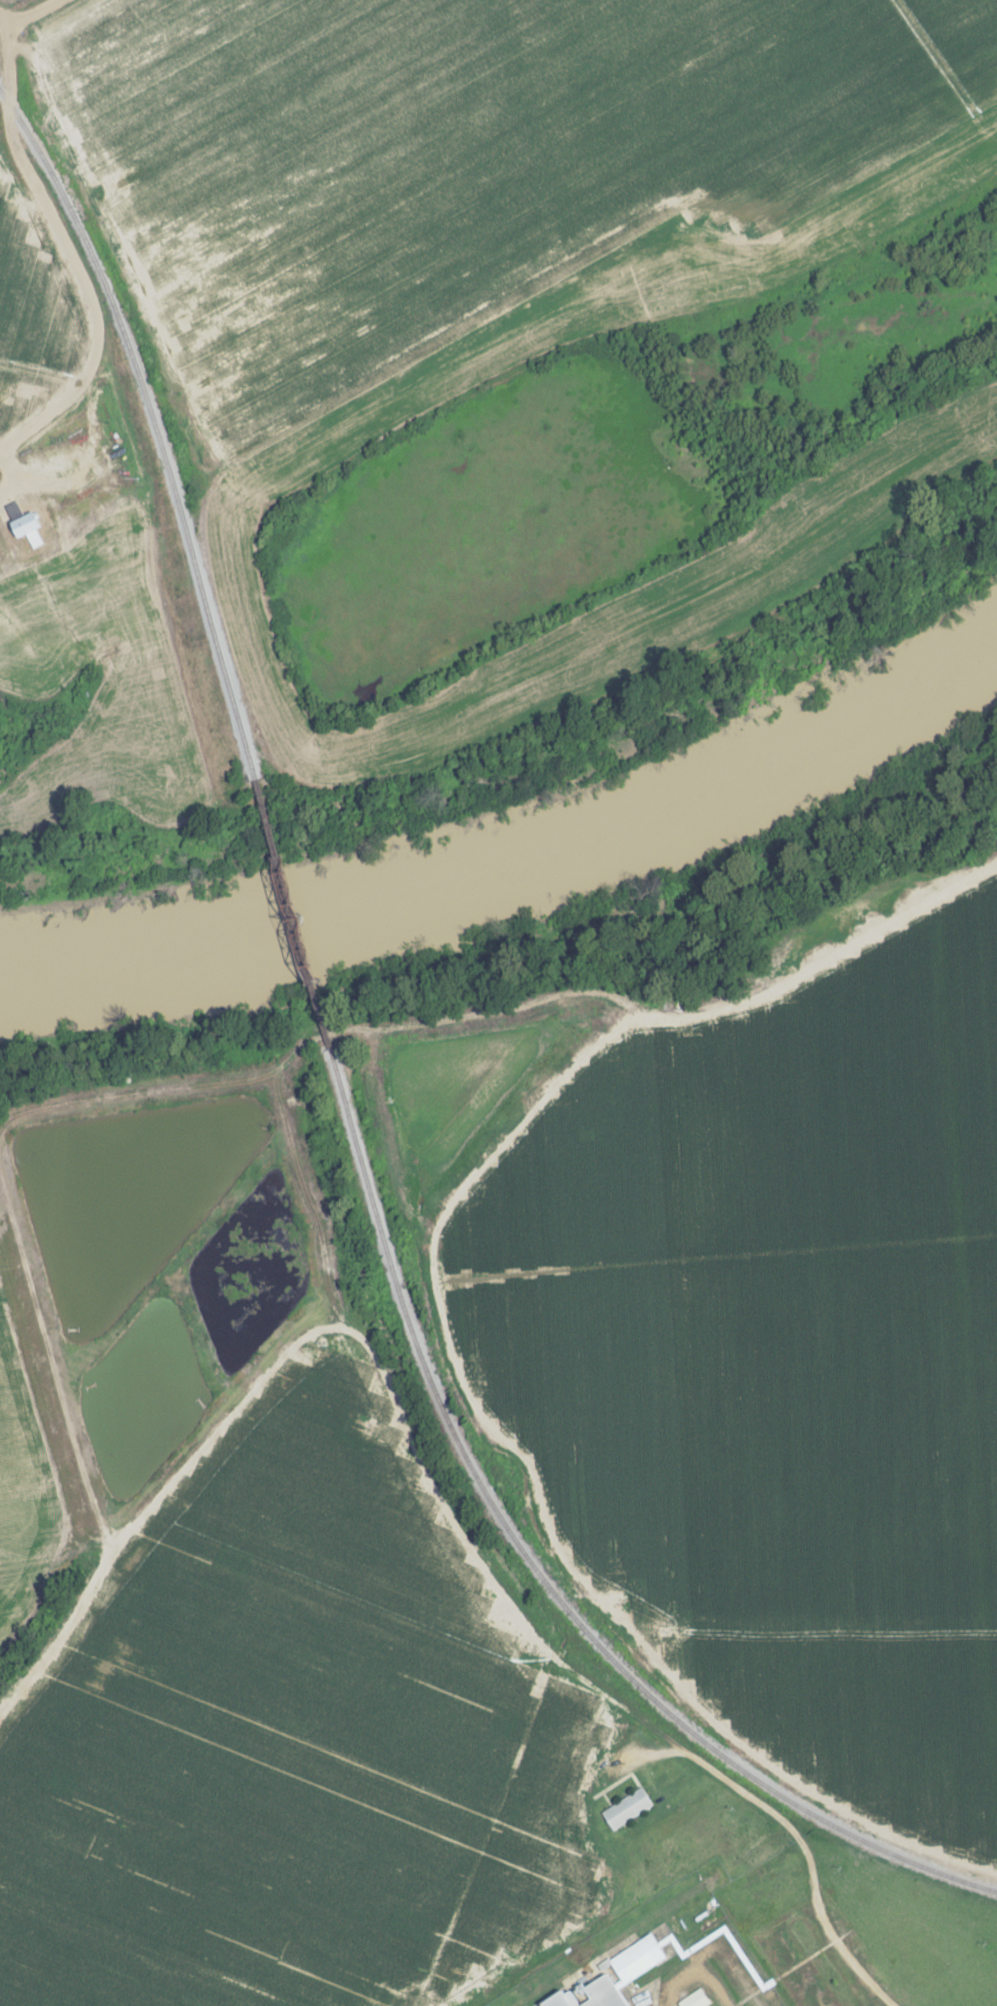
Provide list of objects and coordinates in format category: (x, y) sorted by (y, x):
road: (31, 14)
road: (2, 23)
road: (66, 252)
road: (507, 306)
railway: (153, 426)
building: (18, 525)
river: (524, 887)
railway: (288, 914)
road: (428, 1297)
railway: (539, 1570)
building: (625, 1808)
road: (824, 1907)
building: (609, 1978)
building: (694, 1999)

